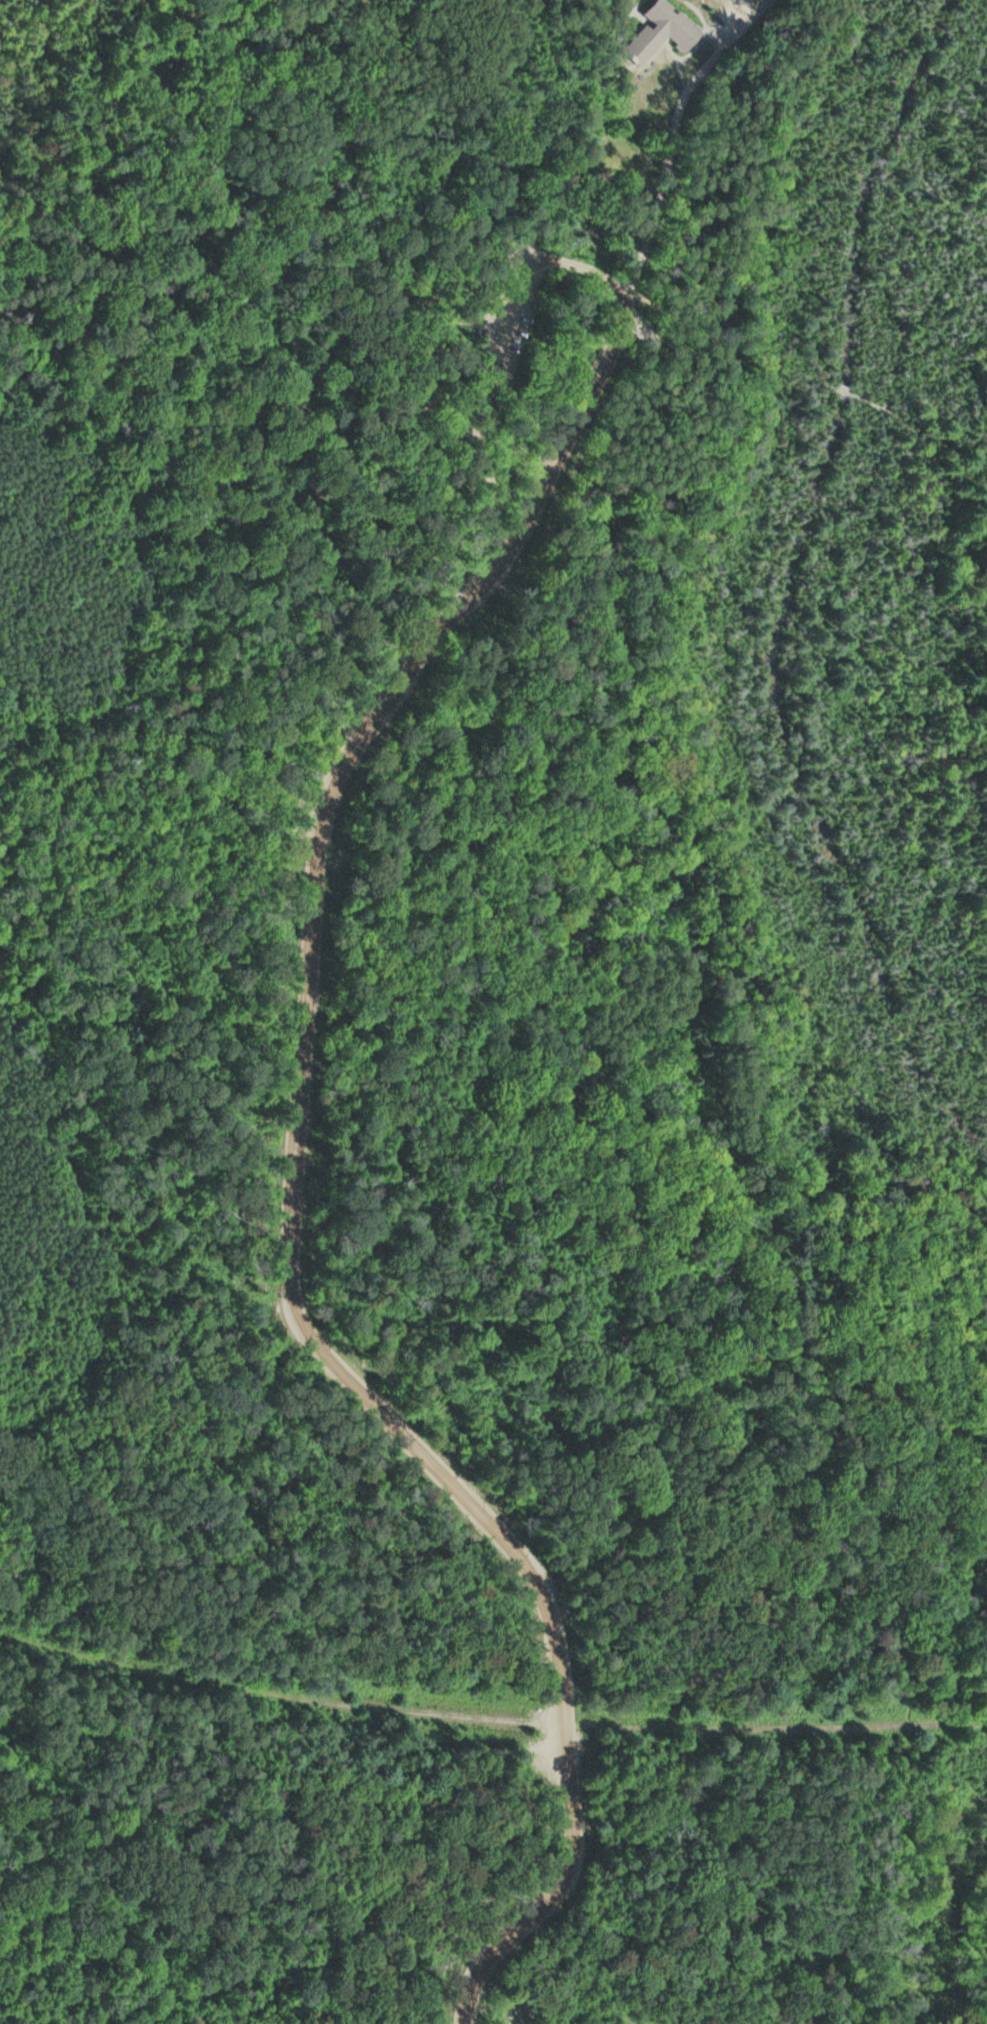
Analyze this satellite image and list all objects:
road: (696, 13)
road: (640, 19)
building: (657, 33)
road: (669, 51)
road: (571, 131)
road: (670, 133)
road: (940, 240)
parking lot: (510, 265)
road: (566, 267)
road: (248, 271)
road: (724, 340)
road: (842, 393)
road: (915, 438)
road: (299, 1316)
road: (943, 1677)
road: (490, 1720)
parking lot: (547, 1759)

